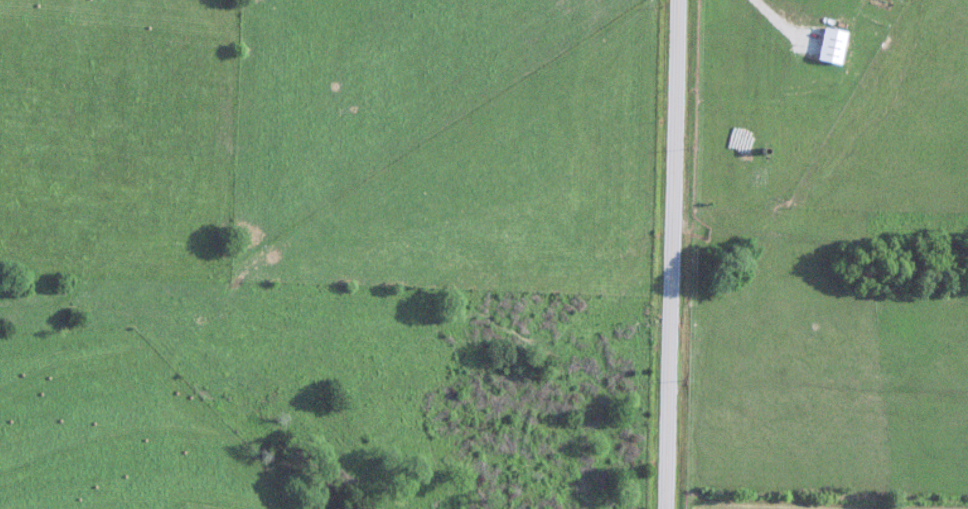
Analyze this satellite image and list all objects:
road: (679, 254)

